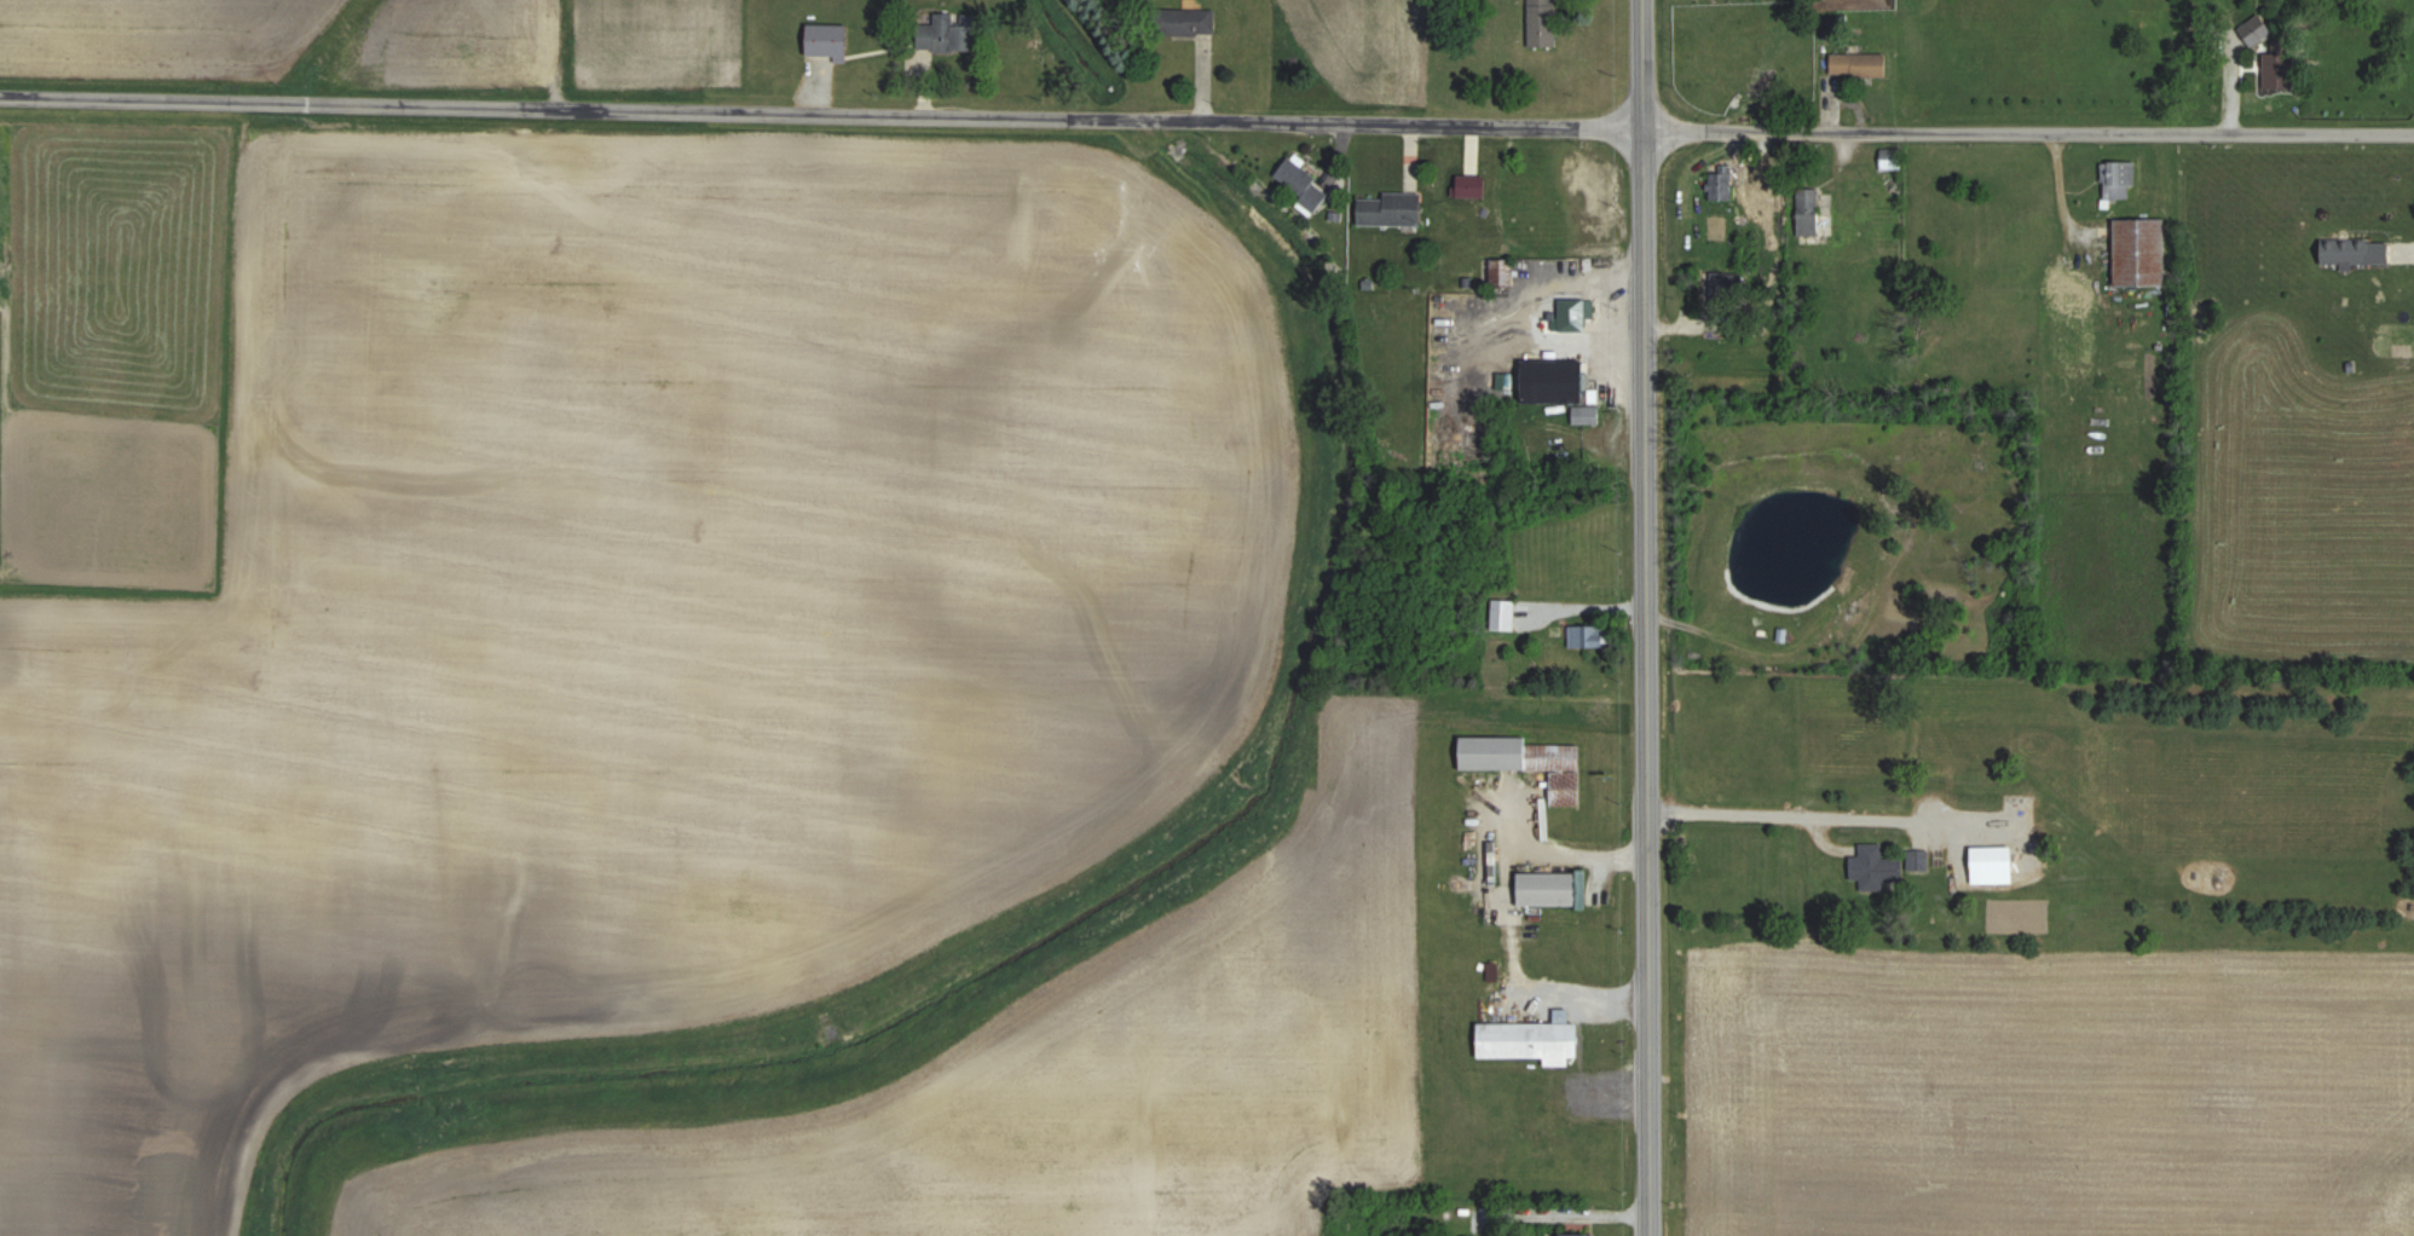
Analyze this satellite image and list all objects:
building: (1192, 21)
building: (1544, 23)
building: (2253, 28)
building: (951, 33)
building: (830, 41)
building: (1854, 64)
building: (2276, 70)
road: (818, 114)
road: (2025, 135)
building: (1887, 164)
building: (2115, 178)
building: (1295, 183)
building: (1717, 183)
building: (1385, 209)
building: (1804, 212)
building: (2136, 252)
building: (2350, 252)
building: (1723, 290)
building: (1567, 314)
building: (1546, 382)
building: (1498, 614)
road: (1642, 617)
building: (1582, 636)
building: (1509, 755)
road: (1791, 819)
building: (1986, 866)
building: (1871, 868)
building: (1540, 889)
building: (1524, 1040)
road: (1569, 1211)
building: (1570, 1234)
building: (1463, 1235)

